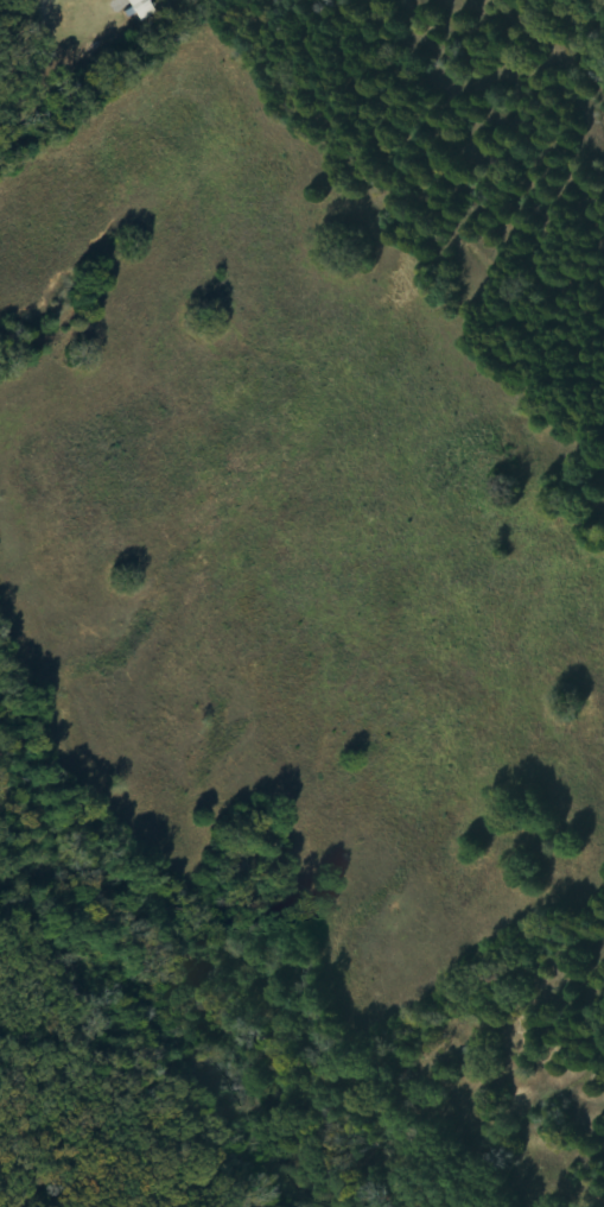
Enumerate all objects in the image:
building: (142, 8)

